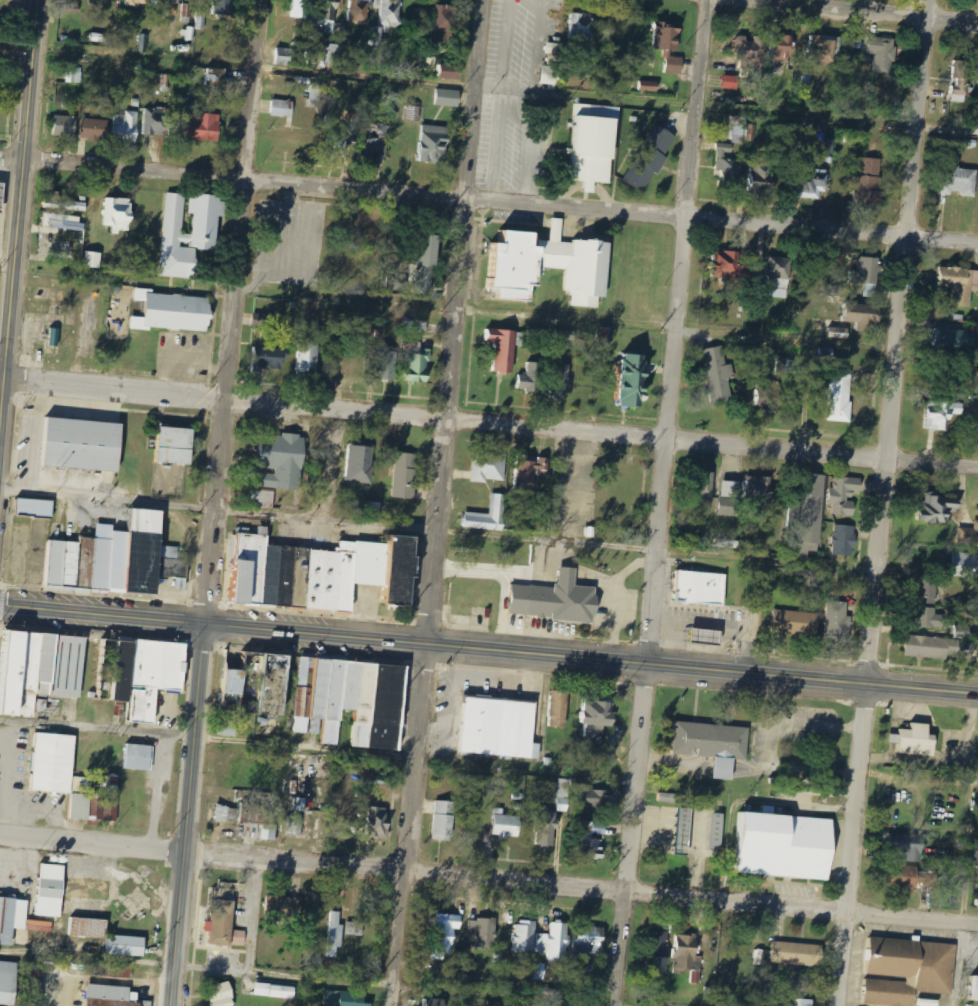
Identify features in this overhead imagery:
building: (138, 2)
building: (167, 6)
building: (188, 7)
building: (222, 7)
building: (302, 8)
building: (360, 11)
road: (860, 12)
building: (200, 20)
building: (388, 20)
building: (446, 23)
building: (582, 28)
building: (670, 47)
building: (764, 50)
building: (822, 50)
building: (327, 53)
building: (881, 53)
building: (554, 54)
building: (285, 57)
building: (431, 64)
building: (450, 71)
building: (74, 73)
building: (551, 75)
building: (216, 78)
building: (960, 78)
building: (731, 83)
building: (804, 83)
building: (649, 87)
building: (63, 93)
building: (315, 96)
building: (448, 98)
building: (283, 108)
building: (155, 122)
building: (203, 126)
building: (65, 127)
building: (125, 128)
building: (93, 130)
building: (751, 133)
building: (338, 140)
building: (375, 144)
building: (433, 144)
building: (593, 145)
building: (652, 156)
building: (727, 164)
building: (763, 176)
building: (959, 178)
building: (870, 183)
building: (810, 185)
building: (1, 195)
road: (489, 205)
road: (17, 214)
building: (119, 214)
building: (66, 223)
building: (206, 230)
building: (94, 260)
building: (428, 264)
building: (726, 265)
building: (548, 267)
building: (866, 271)
building: (778, 277)
building: (960, 285)
building: (174, 312)
road: (233, 312)
building: (865, 314)
building: (262, 321)
building: (839, 331)
building: (601, 334)
building: (565, 335)
building: (54, 337)
building: (951, 339)
building: (504, 349)
building: (267, 359)
building: (308, 359)
building: (387, 363)
building: (419, 366)
building: (718, 375)
building: (529, 378)
building: (635, 380)
building: (560, 382)
building: (769, 395)
building: (840, 397)
building: (942, 414)
road: (489, 421)
building: (81, 445)
building: (172, 445)
building: (361, 464)
building: (276, 466)
building: (489, 466)
building: (530, 471)
building: (406, 476)
building: (759, 489)
road: (11, 490)
building: (846, 495)
building: (730, 499)
road: (659, 502)
road: (440, 503)
road: (884, 503)
building: (36, 508)
building: (938, 509)
building: (805, 513)
building: (489, 516)
road: (438, 529)
building: (969, 536)
building: (844, 540)
building: (129, 558)
building: (53, 562)
building: (69, 564)
building: (965, 565)
building: (322, 574)
building: (182, 585)
building: (697, 588)
building: (929, 591)
building: (482, 600)
building: (562, 600)
road: (101, 615)
building: (930, 618)
building: (837, 621)
building: (795, 623)
building: (962, 633)
building: (703, 637)
building: (939, 648)
road: (589, 661)
building: (25, 671)
building: (144, 677)
building: (253, 683)
building: (350, 701)
building: (559, 709)
building: (597, 715)
building: (228, 727)
building: (497, 729)
building: (917, 741)
building: (709, 744)
building: (140, 757)
building: (66, 778)
building: (114, 783)
building: (563, 794)
building: (668, 798)
building: (594, 799)
building: (299, 805)
road: (183, 814)
building: (228, 814)
building: (375, 820)
building: (444, 821)
building: (258, 822)
building: (296, 825)
building: (507, 827)
building: (546, 828)
building: (680, 831)
building: (714, 831)
building: (591, 840)
building: (781, 846)
building: (906, 849)
building: (977, 851)
building: (910, 878)
road: (488, 881)
building: (62, 889)
building: (10, 917)
building: (223, 927)
building: (355, 929)
building: (335, 934)
building: (483, 934)
building: (445, 935)
building: (105, 936)
building: (525, 937)
building: (591, 939)
building: (554, 942)
building: (659, 951)
building: (686, 953)
building: (794, 954)
building: (469, 966)
building: (538, 970)
building: (903, 970)
building: (7, 982)
building: (974, 988)
building: (276, 991)
building: (222, 995)
building: (108, 996)
building: (342, 999)
building: (437, 1002)
building: (805, 1003)

